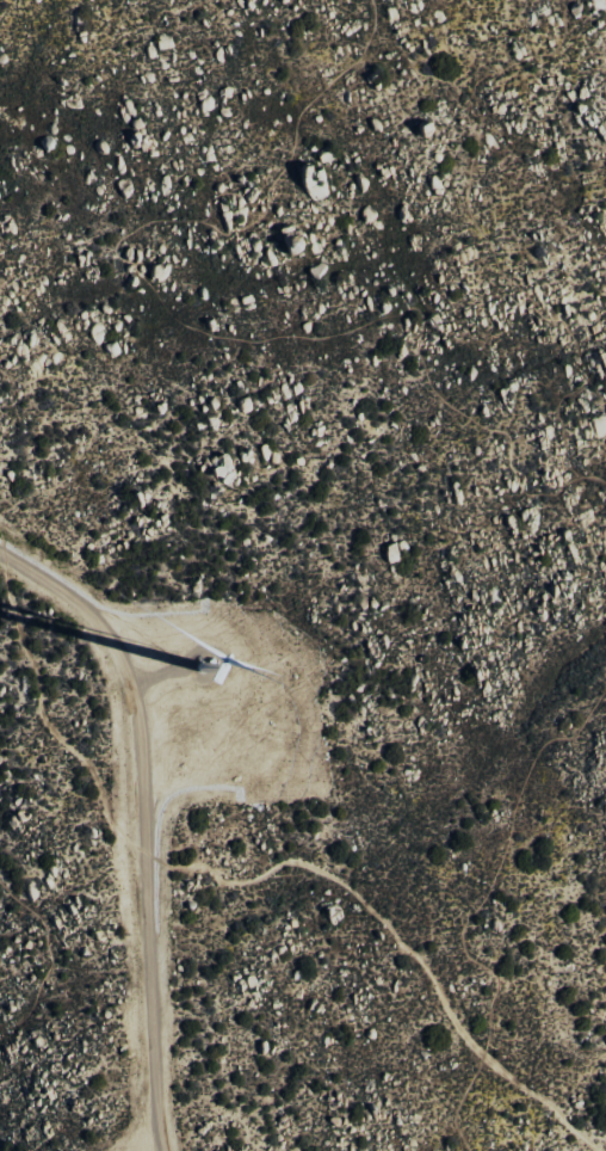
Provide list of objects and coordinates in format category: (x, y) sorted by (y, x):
building: (314, 181)
building: (291, 244)
building: (111, 349)
building: (223, 470)
building: (396, 550)
wind turbine: (209, 673)
road: (143, 819)
road: (45, 952)

